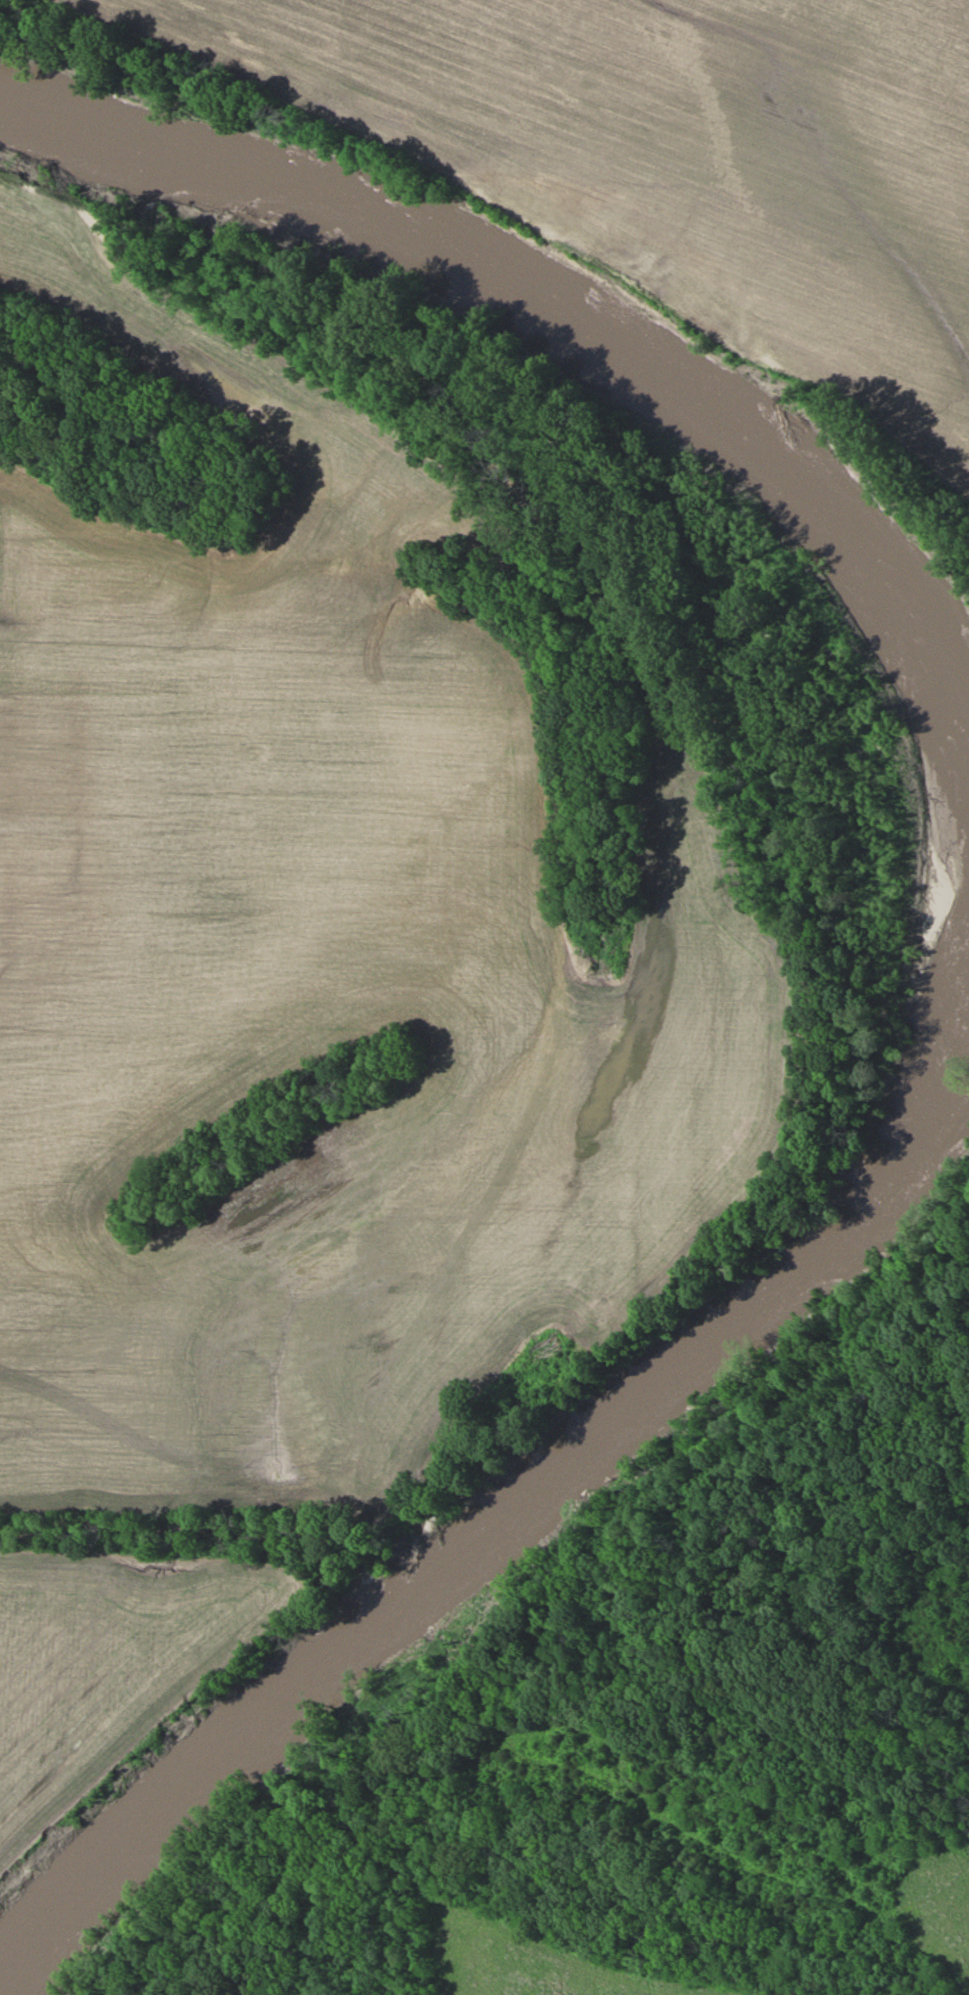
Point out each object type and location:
crop: (676, 156)
river: (951, 978)
crop: (112, 1665)

